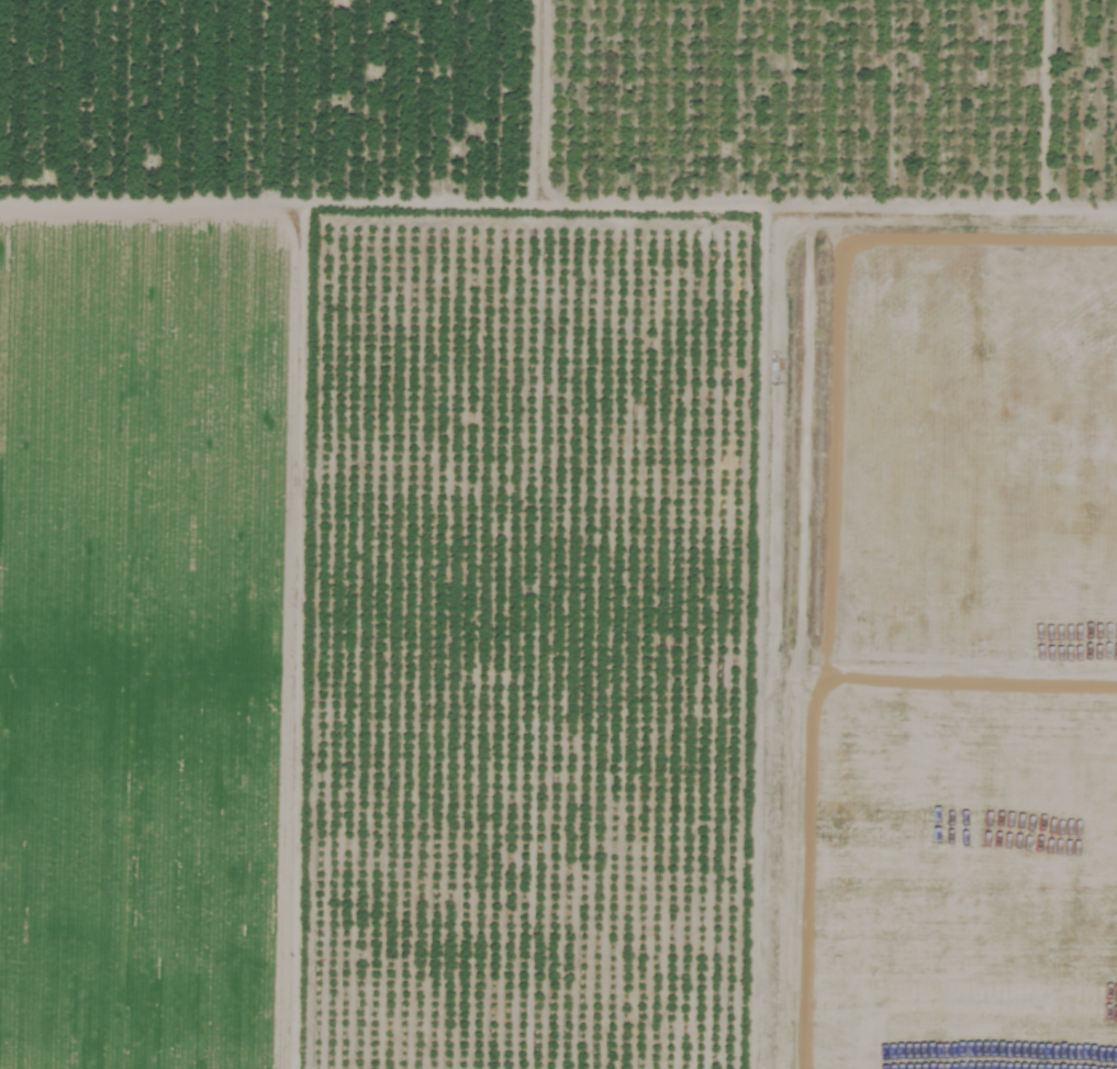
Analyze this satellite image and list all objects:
crop: (558, 534)

